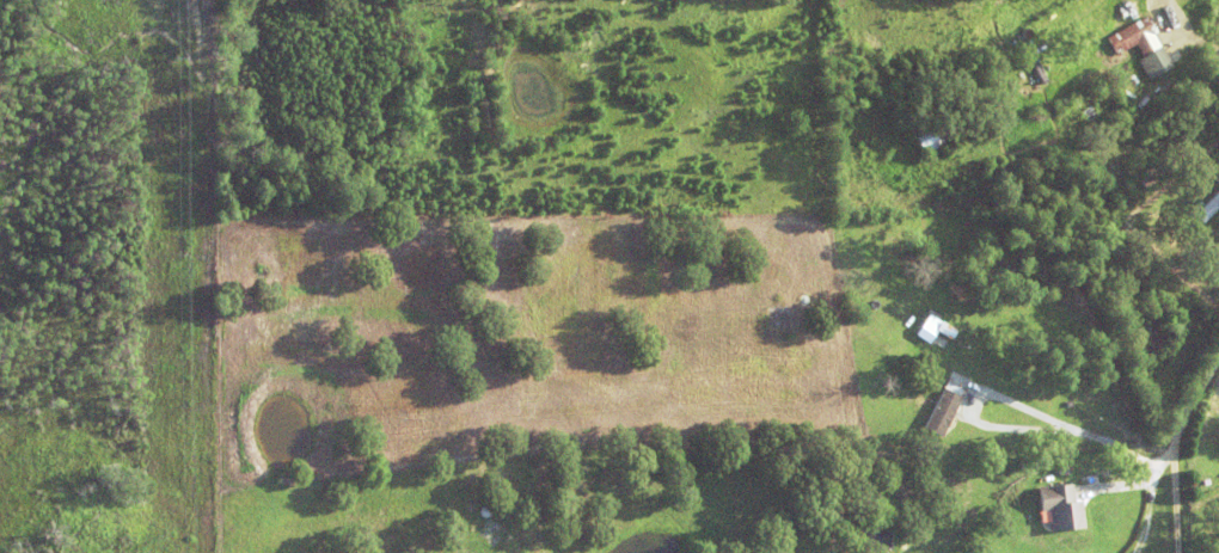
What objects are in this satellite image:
building: (1017, 36)
building: (1141, 44)
building: (1056, 69)
building: (1024, 72)
building: (1139, 73)
building: (947, 134)
building: (925, 140)
building: (1164, 167)
building: (1033, 168)
building: (1024, 174)
building: (1086, 179)
building: (1096, 192)
building: (1206, 204)
building: (1121, 219)
building: (917, 389)
building: (945, 405)
building: (1060, 505)

